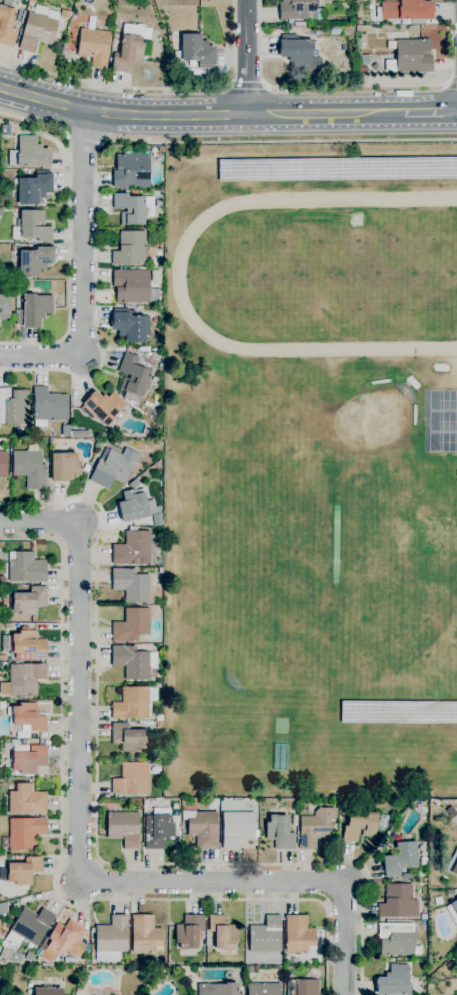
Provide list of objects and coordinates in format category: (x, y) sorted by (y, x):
building: (31, 1)
building: (299, 10)
building: (406, 11)
building: (358, 22)
building: (7, 23)
building: (199, 24)
building: (299, 24)
building: (37, 31)
building: (94, 46)
building: (129, 49)
building: (195, 51)
building: (298, 53)
road: (247, 57)
building: (411, 57)
building: (375, 67)
building: (363, 69)
building: (192, 72)
road: (450, 85)
road: (248, 86)
road: (354, 86)
road: (155, 88)
road: (431, 113)
road: (200, 116)
road: (84, 142)
road: (113, 142)
building: (29, 154)
building: (336, 169)
building: (131, 171)
building: (33, 188)
building: (133, 208)
building: (1, 212)
track: (315, 215)
track: (314, 221)
building: (31, 227)
road: (69, 234)
building: (13, 248)
building: (130, 249)
building: (34, 261)
track: (328, 274)
road: (81, 277)
track: (178, 277)
park: (345, 281)
building: (131, 286)
building: (4, 306)
building: (34, 310)
building: (128, 326)
building: (133, 375)
park: (443, 399)
building: (13, 406)
building: (48, 407)
building: (104, 408)
park: (368, 418)
park: (443, 422)
building: (80, 433)
park: (443, 443)
building: (3, 464)
building: (63, 464)
building: (113, 467)
building: (29, 468)
building: (136, 506)
park: (334, 542)
building: (133, 548)
building: (26, 568)
building: (131, 585)
building: (29, 601)
building: (131, 625)
building: (25, 645)
building: (3, 658)
building: (133, 662)
building: (23, 680)
building: (133, 703)
building: (398, 710)
building: (28, 717)
building: (127, 738)
building: (29, 760)
building: (131, 779)
building: (26, 800)
building: (359, 824)
building: (315, 827)
building: (202, 828)
building: (123, 829)
building: (158, 829)
building: (236, 829)
road: (96, 831)
building: (25, 833)
building: (279, 833)
road: (79, 849)
building: (400, 858)
building: (453, 864)
building: (23, 871)
road: (56, 872)
building: (406, 876)
building: (449, 892)
building: (398, 902)
building: (436, 903)
building: (3, 909)
building: (453, 911)
building: (29, 927)
building: (189, 932)
building: (222, 933)
building: (144, 934)
building: (298, 934)
building: (265, 936)
building: (110, 938)
building: (397, 940)
building: (63, 941)
building: (28, 956)
building: (450, 965)
building: (393, 981)
building: (302, 987)
building: (217, 989)
building: (263, 989)
building: (45, 991)

